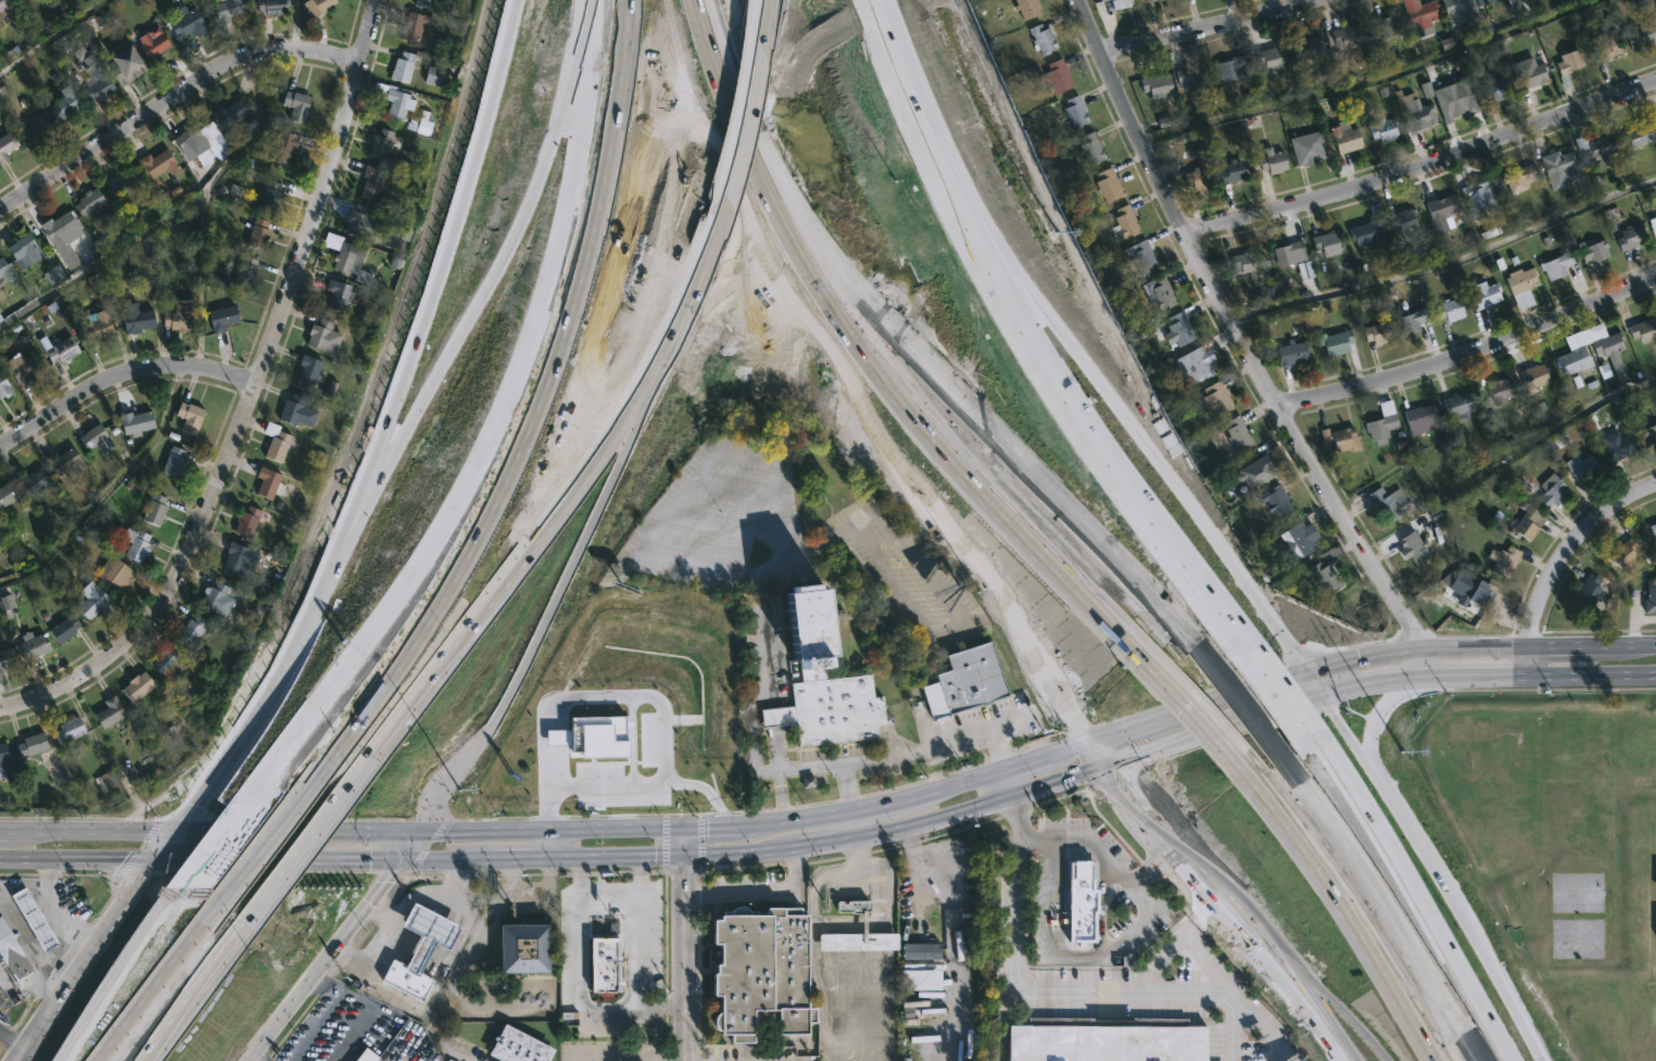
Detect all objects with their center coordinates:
building: (1100, 0)
building: (1152, 0)
building: (1493, 0)
building: (17, 2)
road: (586, 2)
building: (421, 3)
building: (1117, 3)
building: (269, 5)
building: (313, 5)
building: (2, 8)
building: (1026, 8)
building: (1459, 8)
building: (226, 10)
road: (749, 12)
road: (763, 12)
building: (1421, 12)
building: (0, 24)
building: (184, 24)
building: (1385, 24)
road: (294, 25)
building: (412, 25)
road: (1213, 28)
building: (1641, 33)
road: (51, 36)
building: (1344, 37)
building: (1040, 39)
building: (150, 43)
building: (1602, 46)
building: (1309, 49)
building: (1268, 58)
building: (1568, 61)
building: (122, 65)
building: (402, 66)
building: (1229, 67)
road: (900, 68)
building: (1528, 73)
building: (433, 76)
building: (1057, 76)
building: (1191, 76)
building: (96, 83)
building: (1153, 86)
building: (1494, 89)
road: (746, 97)
building: (1454, 98)
road: (690, 99)
road: (170, 100)
road: (584, 100)
building: (396, 102)
building: (62, 104)
building: (293, 104)
building: (228, 112)
building: (1074, 112)
road: (732, 115)
building: (1419, 115)
road: (745, 116)
building: (424, 124)
building: (34, 128)
building: (1383, 129)
building: (1639, 134)
building: (1344, 138)
building: (187, 142)
building: (378, 143)
building: (5, 144)
building: (281, 146)
building: (1090, 149)
building: (1306, 149)
building: (1596, 149)
building: (1272, 161)
building: (156, 163)
road: (1423, 167)
building: (1234, 172)
building: (1563, 172)
building: (1199, 176)
building: (1518, 178)
building: (370, 182)
building: (119, 186)
building: (1107, 186)
building: (268, 198)
building: (1478, 199)
building: (87, 201)
road: (170, 212)
building: (1440, 213)
building: (1655, 216)
building: (1403, 219)
building: (358, 222)
building: (1124, 222)
building: (55, 228)
building: (1365, 232)
building: (255, 235)
building: (1632, 237)
building: (1325, 243)
building: (20, 250)
building: (1594, 252)
building: (1289, 253)
building: (1139, 256)
building: (1248, 262)
road: (1446, 262)
building: (349, 263)
building: (1556, 265)
road: (502, 266)
building: (3, 274)
building: (243, 274)
building: (53, 275)
building: (96, 281)
building: (1520, 286)
building: (1156, 292)
building: (336, 294)
building: (1483, 295)
road: (441, 298)
building: (1449, 310)
building: (177, 315)
building: (131, 318)
building: (218, 318)
building: (1410, 321)
building: (92, 327)
building: (1178, 329)
building: (1643, 330)
building: (1376, 332)
building: (320, 338)
building: (1336, 341)
road: (1243, 343)
building: (1607, 344)
building: (59, 351)
building: (1291, 352)
road: (1468, 352)
building: (1572, 361)
building: (18, 367)
building: (1194, 367)
building: (305, 372)
building: (1534, 376)
road: (905, 377)
road: (119, 378)
road: (862, 388)
road: (1062, 389)
building: (3, 390)
building: (1500, 391)
road: (249, 400)
building: (1214, 400)
road: (1116, 402)
building: (1456, 405)
building: (295, 412)
building: (186, 417)
road: (988, 418)
building: (1419, 419)
building: (131, 421)
building: (1380, 424)
road: (1551, 428)
building: (1648, 433)
building: (1231, 434)
building: (93, 439)
building: (1340, 439)
building: (274, 442)
building: (1619, 446)
building: (64, 462)
building: (170, 463)
building: (1580, 466)
building: (1254, 467)
road: (896, 472)
building: (28, 482)
building: (265, 482)
road: (693, 482)
building: (1552, 491)
building: (5, 493)
road: (462, 495)
building: (1275, 501)
road: (549, 505)
building: (1388, 505)
building: (151, 509)
building: (244, 521)
road: (597, 522)
building: (1526, 522)
building: (1652, 528)
building: (1295, 541)
road: (814, 544)
building: (134, 545)
building: (1414, 545)
road: (1571, 550)
building: (1623, 554)
building: (236, 561)
building: (1502, 561)
building: (111, 573)
building: (1325, 578)
building: (1589, 592)
building: (1649, 596)
building: (217, 598)
building: (1477, 598)
building: (89, 601)
building: (5, 602)
road: (1059, 622)
building: (61, 629)
building: (189, 631)
road: (1623, 643)
road: (1560, 644)
road: (1443, 645)
building: (31, 646)
road: (1305, 646)
building: (4, 659)
road: (1530, 659)
road: (1330, 661)
road: (285, 664)
building: (164, 665)
traffic signals: (1303, 669)
road: (1593, 674)
road: (1457, 677)
building: (822, 679)
road: (1310, 682)
building: (962, 683)
road: (1261, 683)
building: (136, 686)
road: (1351, 686)
road: (1277, 689)
traffic signals: (1317, 695)
road: (1242, 700)
road: (1278, 708)
building: (108, 711)
road: (1152, 719)
road: (1380, 720)
building: (66, 731)
road: (1153, 734)
road: (1350, 736)
building: (595, 737)
traffic signals: (1086, 741)
building: (29, 745)
road: (1065, 747)
building: (4, 751)
road: (908, 753)
road: (1023, 760)
building: (0, 766)
traffic signals: (1100, 767)
building: (104, 781)
building: (807, 781)
road: (948, 782)
road: (1004, 782)
road: (1048, 783)
road: (846, 786)
road: (204, 787)
road: (872, 804)
road: (793, 821)
road: (708, 824)
traffic signals: (707, 825)
road: (851, 826)
road: (2, 828)
road: (87, 829)
traffic signals: (414, 829)
road: (546, 829)
road: (326, 830)
traffic signals: (169, 831)
road: (203, 831)
road: (225, 831)
road: (1084, 838)
road: (301, 842)
road: (551, 843)
road: (404, 844)
road: (1156, 845)
road: (827, 846)
road: (856, 856)
traffic signals: (655, 857)
road: (675, 857)
road: (367, 858)
road: (521, 858)
traffic signals: (149, 859)
road: (198, 859)
road: (443, 859)
traffic signals: (395, 860)
road: (637, 875)
traffic signals: (681, 875)
road: (574, 876)
road: (21, 883)
road: (877, 892)
road: (606, 895)
road: (1141, 896)
building: (1080, 902)
road: (1417, 905)
road: (1388, 909)
road: (46, 913)
road: (1468, 917)
building: (29, 919)
road: (1314, 922)
building: (862, 923)
building: (427, 933)
gas station: (427, 933)
road: (816, 938)
road: (952, 940)
road: (878, 942)
road: (681, 943)
road: (90, 945)
building: (7, 947)
road: (1047, 947)
road: (1172, 947)
building: (521, 949)
road: (637, 950)
building: (921, 951)
road: (51, 952)
road: (1279, 953)
road: (26, 958)
road: (318, 960)
road: (1208, 962)
building: (604, 965)
building: (759, 971)
road: (116, 980)
building: (405, 980)
building: (919, 980)
road: (193, 982)
road: (262, 985)
road: (574, 985)
road: (1075, 991)
road: (1292, 999)
road: (660, 1006)
road: (363, 1010)
road: (52, 1013)
road: (1254, 1015)
road: (1350, 1018)
road: (881, 1024)
road: (11, 1039)
building: (1104, 1039)
building: (515, 1046)
road: (1281, 1052)
building: (364, 1056)
road: (252, 1057)
road: (742, 1058)

